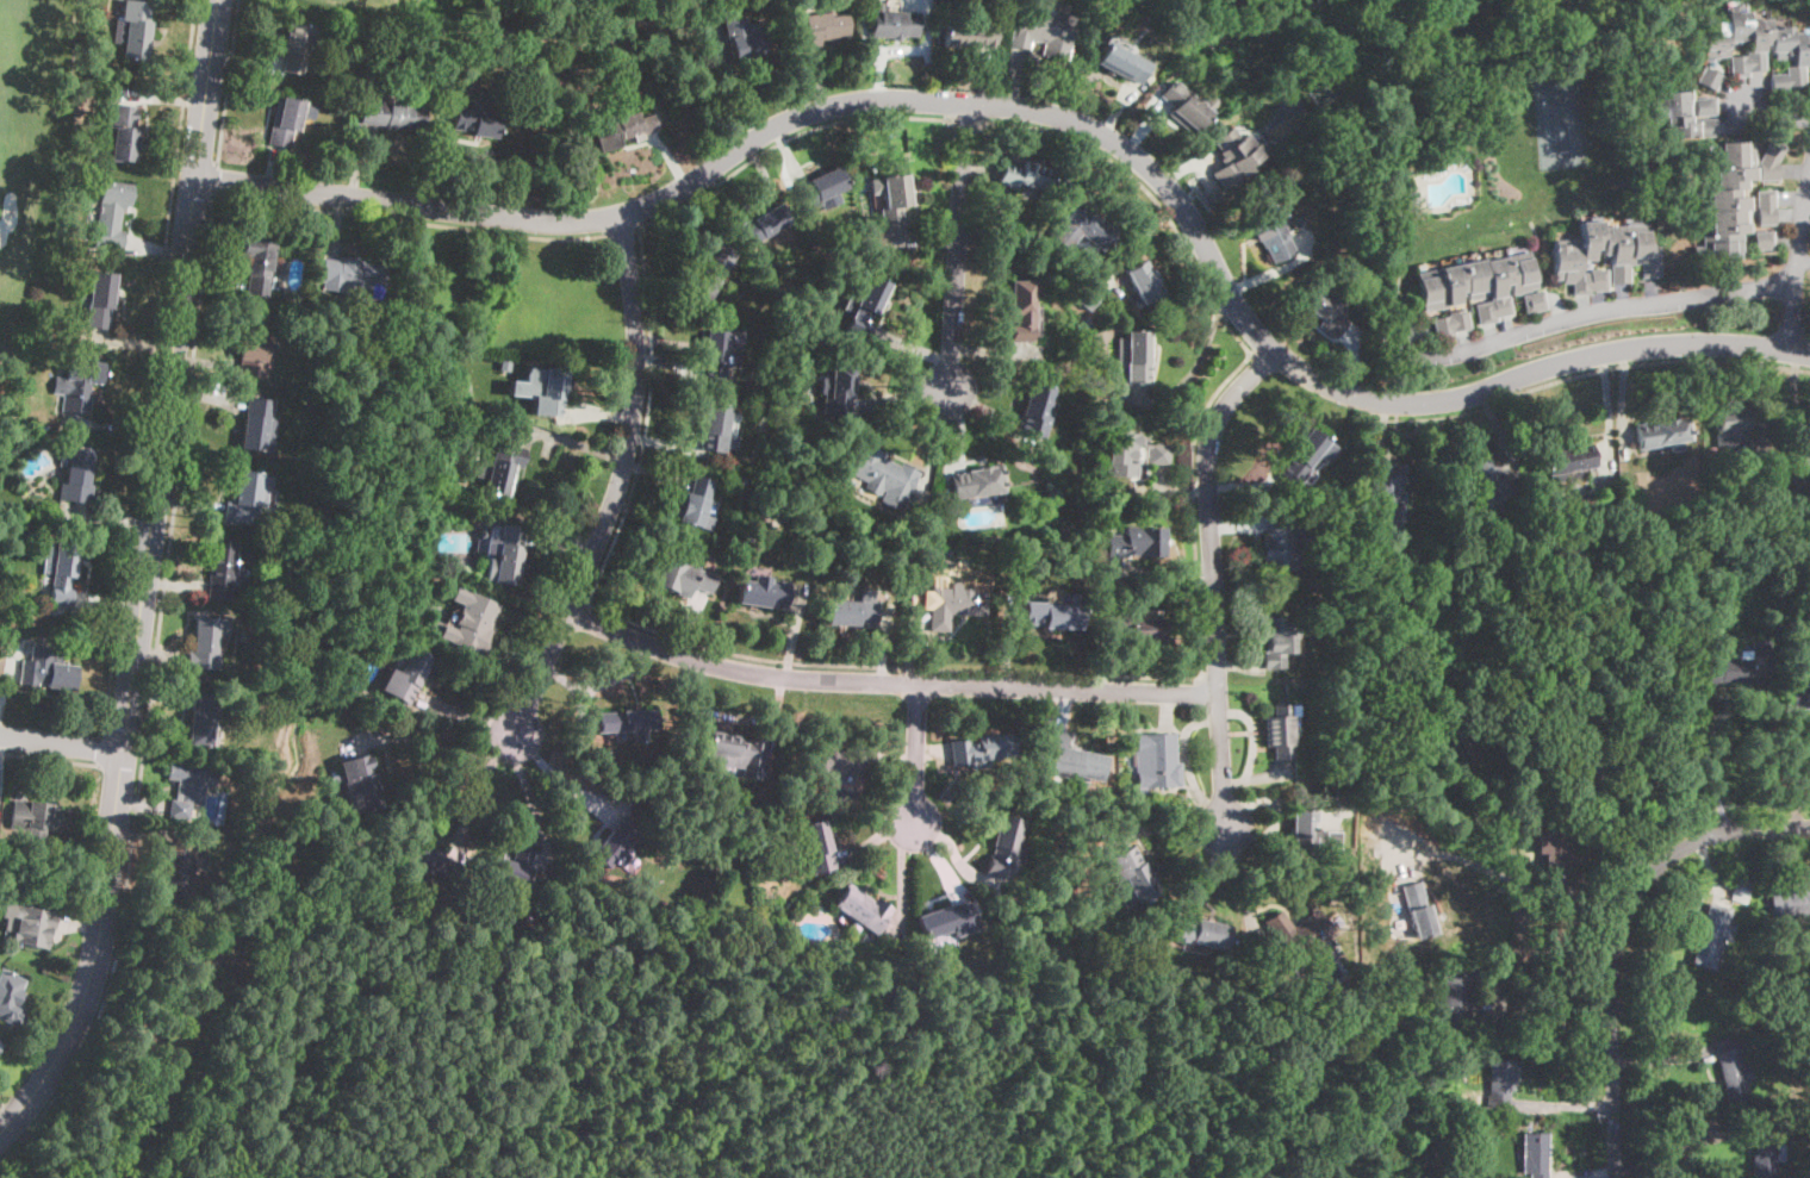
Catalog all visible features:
park: (523, 1)
building: (892, 23)
building: (820, 26)
building: (133, 29)
building: (1043, 32)
building: (969, 35)
building: (745, 44)
building: (298, 46)
building: (1758, 46)
building: (1122, 63)
building: (505, 76)
building: (1709, 77)
road: (678, 79)
road: (226, 82)
building: (1182, 106)
road: (1777, 111)
building: (1685, 113)
building: (392, 114)
road: (1055, 114)
building: (477, 117)
building: (285, 120)
road: (966, 125)
building: (624, 130)
building: (123, 131)
road: (788, 137)
park: (23, 142)
building: (1234, 155)
building: (1458, 155)
building: (1771, 161)
building: (1025, 175)
road: (214, 179)
building: (820, 188)
building: (892, 199)
building: (1412, 200)
building: (1729, 200)
building: (1766, 207)
building: (111, 216)
road: (411, 219)
building: (1295, 223)
building: (763, 224)
building: (1086, 225)
road: (623, 229)
building: (1269, 230)
building: (1764, 241)
road: (958, 247)
building: (1603, 256)
road: (1792, 256)
building: (259, 264)
building: (714, 268)
building: (353, 275)
building: (1144, 282)
building: (1478, 285)
building: (95, 295)
building: (1090, 298)
building: (1535, 301)
building: (865, 306)
building: (1324, 308)
building: (1020, 311)
road: (1575, 313)
building: (1037, 318)
building: (1451, 323)
building: (254, 349)
building: (720, 351)
building: (1134, 355)
building: (505, 364)
road: (150, 366)
road: (1590, 370)
road: (170, 375)
building: (81, 384)
building: (1102, 388)
building: (841, 389)
building: (552, 393)
building: (1035, 413)
building: (260, 425)
building: (715, 426)
building: (1662, 434)
building: (1733, 434)
building: (1132, 453)
building: (1301, 456)
building: (1803, 457)
building: (1568, 460)
building: (1662, 468)
building: (502, 469)
building: (79, 475)
building: (883, 475)
road: (618, 481)
building: (976, 481)
building: (1492, 486)
building: (1050, 488)
building: (1385, 490)
building: (247, 495)
building: (697, 504)
building: (766, 507)
building: (52, 517)
building: (922, 517)
building: (51, 529)
building: (274, 530)
building: (1283, 541)
building: (1136, 542)
building: (505, 553)
building: (1363, 553)
building: (270, 560)
building: (223, 569)
building: (63, 573)
building: (684, 575)
road: (1213, 578)
building: (1686, 585)
building: (45, 591)
building: (764, 593)
building: (953, 604)
building: (853, 611)
building: (1051, 615)
building: (267, 621)
building: (468, 622)
building: (1136, 627)
building: (1277, 640)
building: (205, 644)
building: (1741, 665)
building: (48, 668)
road: (1055, 671)
building: (408, 675)
road: (889, 681)
road: (150, 692)
building: (1800, 697)
building: (622, 719)
building: (204, 721)
building: (1277, 731)
road: (62, 743)
road: (102, 747)
building: (978, 750)
building: (733, 752)
building: (1468, 752)
road: (916, 753)
road: (50, 756)
building: (1072, 758)
road: (442, 759)
building: (836, 760)
building: (1158, 761)
road: (1706, 765)
building: (1585, 767)
road: (560, 781)
building: (356, 783)
road: (480, 784)
building: (189, 785)
road: (527, 793)
road: (1585, 812)
building: (38, 816)
building: (1312, 836)
building: (615, 846)
building: (819, 846)
building: (1557, 847)
building: (1004, 848)
road: (1531, 856)
building: (431, 864)
building: (511, 866)
building: (179, 871)
building: (1132, 873)
road: (1245, 880)
building: (27, 884)
road: (1525, 885)
building: (1742, 890)
building: (1790, 902)
building: (817, 908)
building: (863, 909)
building: (1418, 910)
building: (947, 920)
building: (33, 927)
building: (1298, 931)
building: (1202, 933)
road: (1617, 935)
building: (1712, 936)
road: (97, 954)
building: (1008, 960)
building: (1327, 962)
building: (11, 997)
building: (1456, 1002)
building: (1754, 1002)
road: (1553, 1012)
building: (1388, 1014)
building: (0, 1040)
building: (0, 1043)
park: (672, 1064)
building: (1733, 1071)
building: (1500, 1083)
road: (1683, 1149)
building: (1767, 1152)
building: (1431, 1154)
building: (1535, 1154)
building: (1454, 1170)
building: (1464, 1176)

